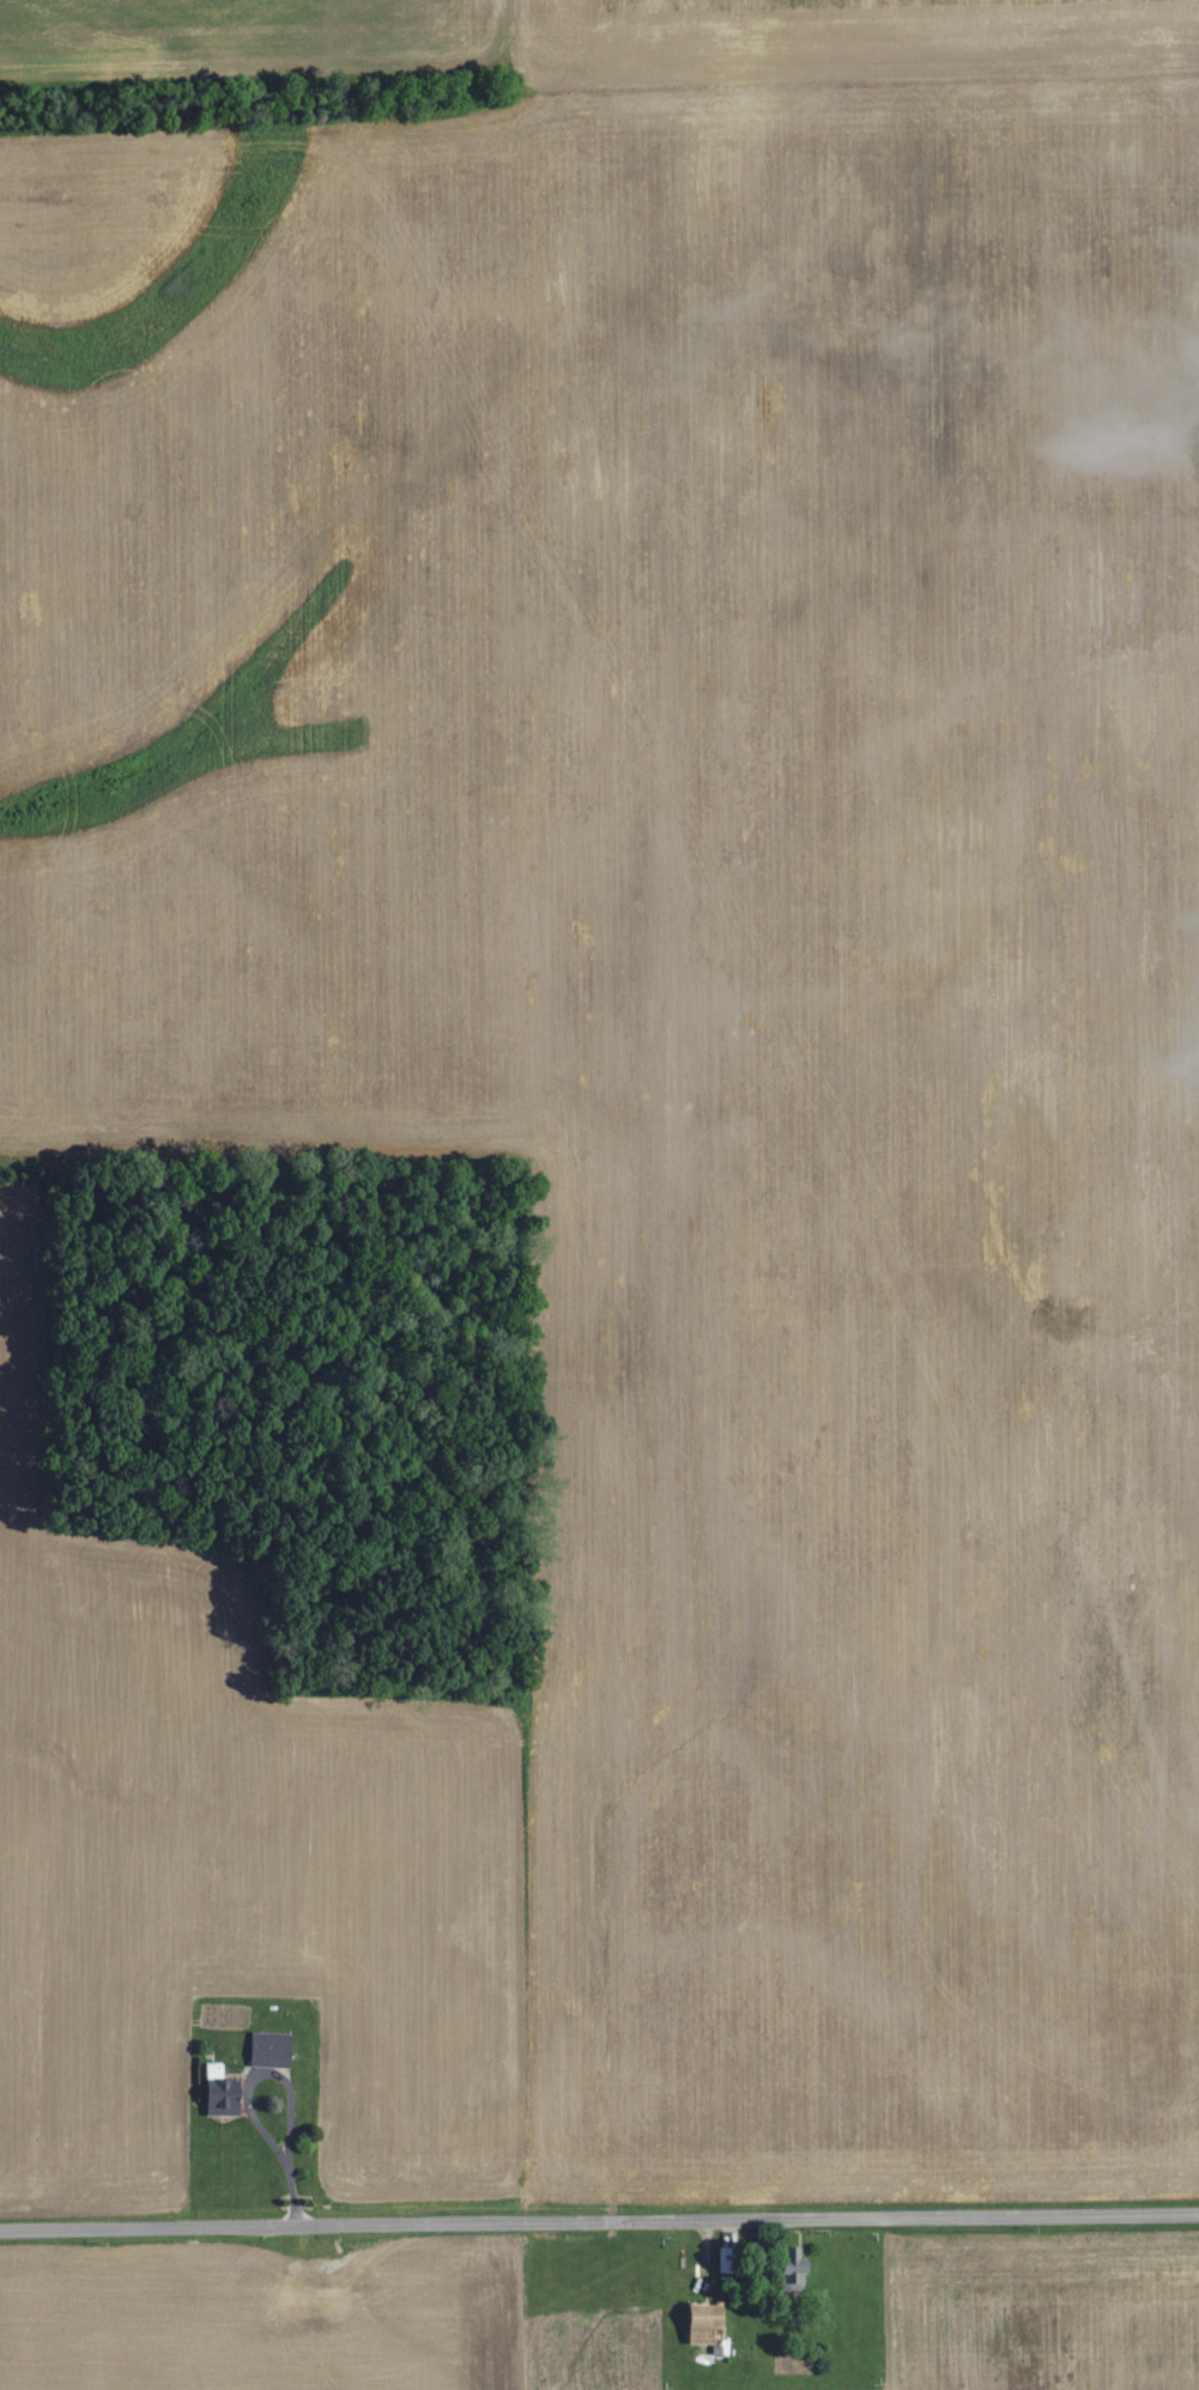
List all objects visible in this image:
building: (274, 2049)
road: (599, 2220)
building: (710, 2327)

